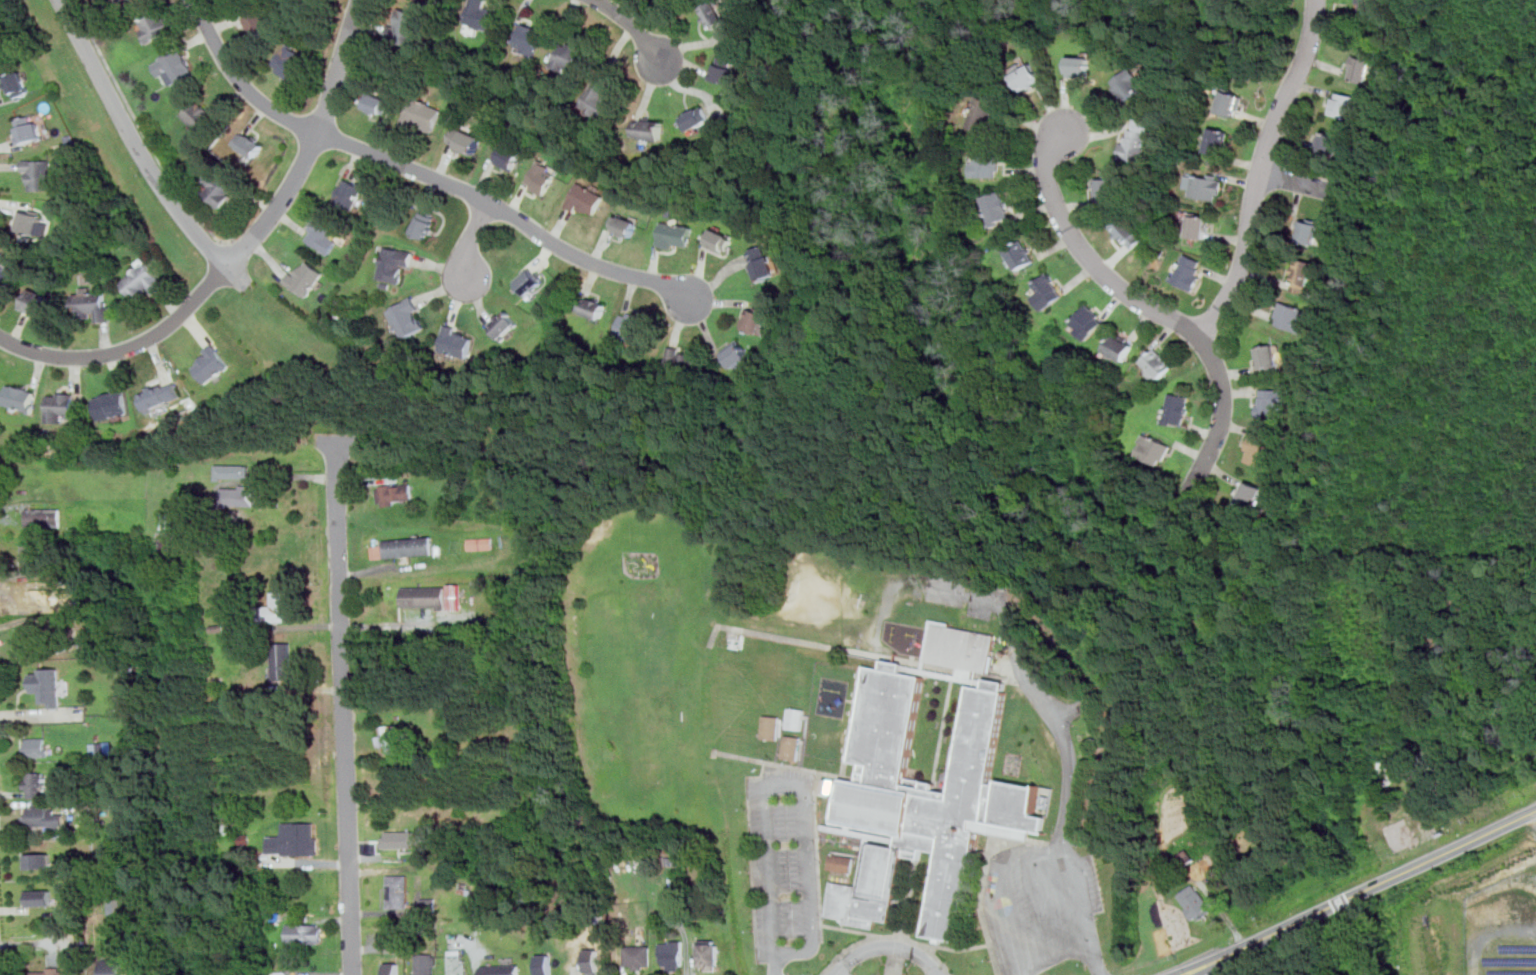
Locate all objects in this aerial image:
building: (116, 0)
park: (874, 2)
building: (1368, 5)
building: (714, 14)
building: (483, 16)
building: (258, 23)
building: (405, 24)
road: (632, 25)
building: (154, 26)
building: (529, 38)
building: (2, 42)
building: (567, 56)
building: (289, 61)
building: (1078, 66)
building: (174, 67)
building: (726, 69)
building: (1362, 69)
building: (1026, 76)
road: (239, 83)
building: (18, 84)
building: (1129, 84)
building: (600, 102)
building: (1231, 102)
building: (379, 103)
building: (1346, 105)
building: (985, 113)
building: (423, 114)
building: (199, 115)
building: (697, 117)
road: (140, 126)
building: (29, 128)
building: (648, 129)
road: (135, 139)
building: (465, 140)
building: (1138, 140)
building: (1217, 140)
building: (250, 143)
building: (1328, 144)
building: (509, 157)
building: (986, 164)
road: (1260, 171)
building: (39, 174)
building: (542, 177)
road: (1305, 184)
building: (1204, 185)
building: (218, 187)
building: (1106, 188)
building: (349, 194)
building: (586, 199)
building: (997, 207)
road: (508, 214)
building: (29, 221)
building: (424, 224)
building: (625, 225)
building: (1198, 226)
building: (1127, 231)
building: (1306, 232)
building: (323, 234)
building: (675, 235)
road: (469, 240)
road: (226, 241)
building: (720, 241)
road: (239, 247)
road: (217, 249)
road: (241, 252)
building: (1021, 253)
building: (761, 262)
building: (394, 263)
building: (1188, 271)
building: (5, 272)
building: (1302, 275)
road: (238, 277)
building: (306, 277)
building: (142, 281)
building: (529, 281)
building: (1048, 291)
building: (38, 303)
building: (93, 304)
building: (593, 307)
road: (1151, 308)
building: (1290, 315)
building: (407, 318)
building: (755, 318)
building: (1088, 322)
building: (503, 323)
building: (631, 325)
building: (457, 343)
building: (1120, 346)
building: (737, 354)
building: (1267, 357)
building: (683, 361)
building: (210, 364)
building: (1157, 364)
building: (161, 394)
building: (19, 397)
building: (1270, 401)
building: (111, 402)
building: (59, 406)
building: (1177, 408)
building: (1153, 449)
building: (1259, 450)
building: (232, 471)
road: (296, 476)
building: (394, 493)
building: (1252, 493)
building: (242, 494)
building: (44, 517)
building: (170, 520)
building: (481, 543)
building: (405, 547)
building: (165, 548)
building: (30, 560)
building: (424, 597)
building: (455, 597)
building: (280, 606)
building: (45, 637)
building: (961, 647)
building: (283, 661)
building: (48, 685)
building: (797, 719)
road: (344, 723)
building: (772, 727)
building: (389, 737)
building: (35, 747)
building: (793, 747)
building: (35, 785)
road: (796, 788)
building: (923, 799)
building: (43, 815)
building: (231, 824)
building: (400, 839)
building: (294, 840)
road: (1040, 851)
building: (39, 860)
building: (842, 862)
building: (398, 891)
road: (1361, 893)
building: (41, 897)
building: (1196, 902)
building: (114, 906)
solar farm: (1504, 927)
building: (305, 934)
road: (888, 946)
building: (708, 954)
building: (672, 955)
building: (638, 956)
building: (593, 960)
building: (458, 962)
building: (426, 964)
building: (545, 964)
building: (112, 966)
road: (775, 967)
building: (393, 968)
building: (501, 970)
building: (49, 971)

